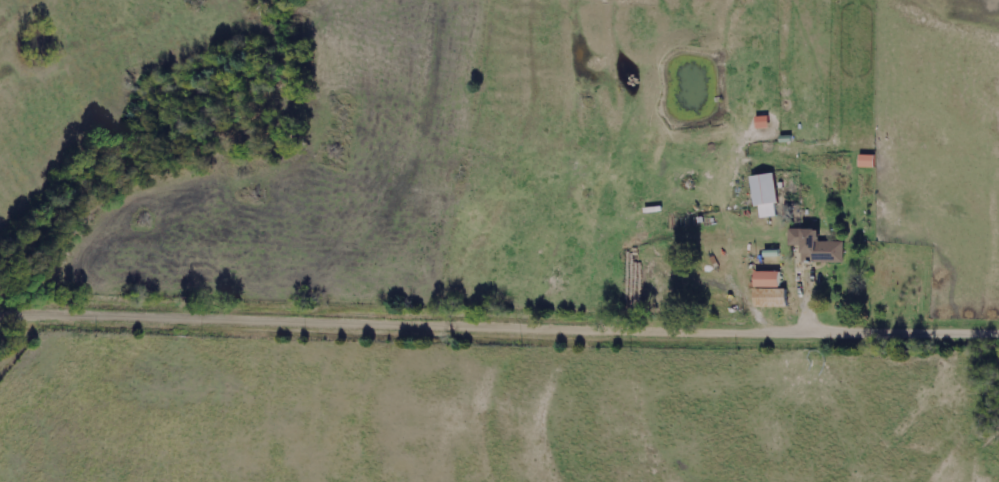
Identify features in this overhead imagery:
building: (765, 122)
building: (869, 161)
building: (765, 195)
building: (816, 247)
building: (652, 265)
building: (771, 291)
road: (810, 302)
road: (499, 322)

